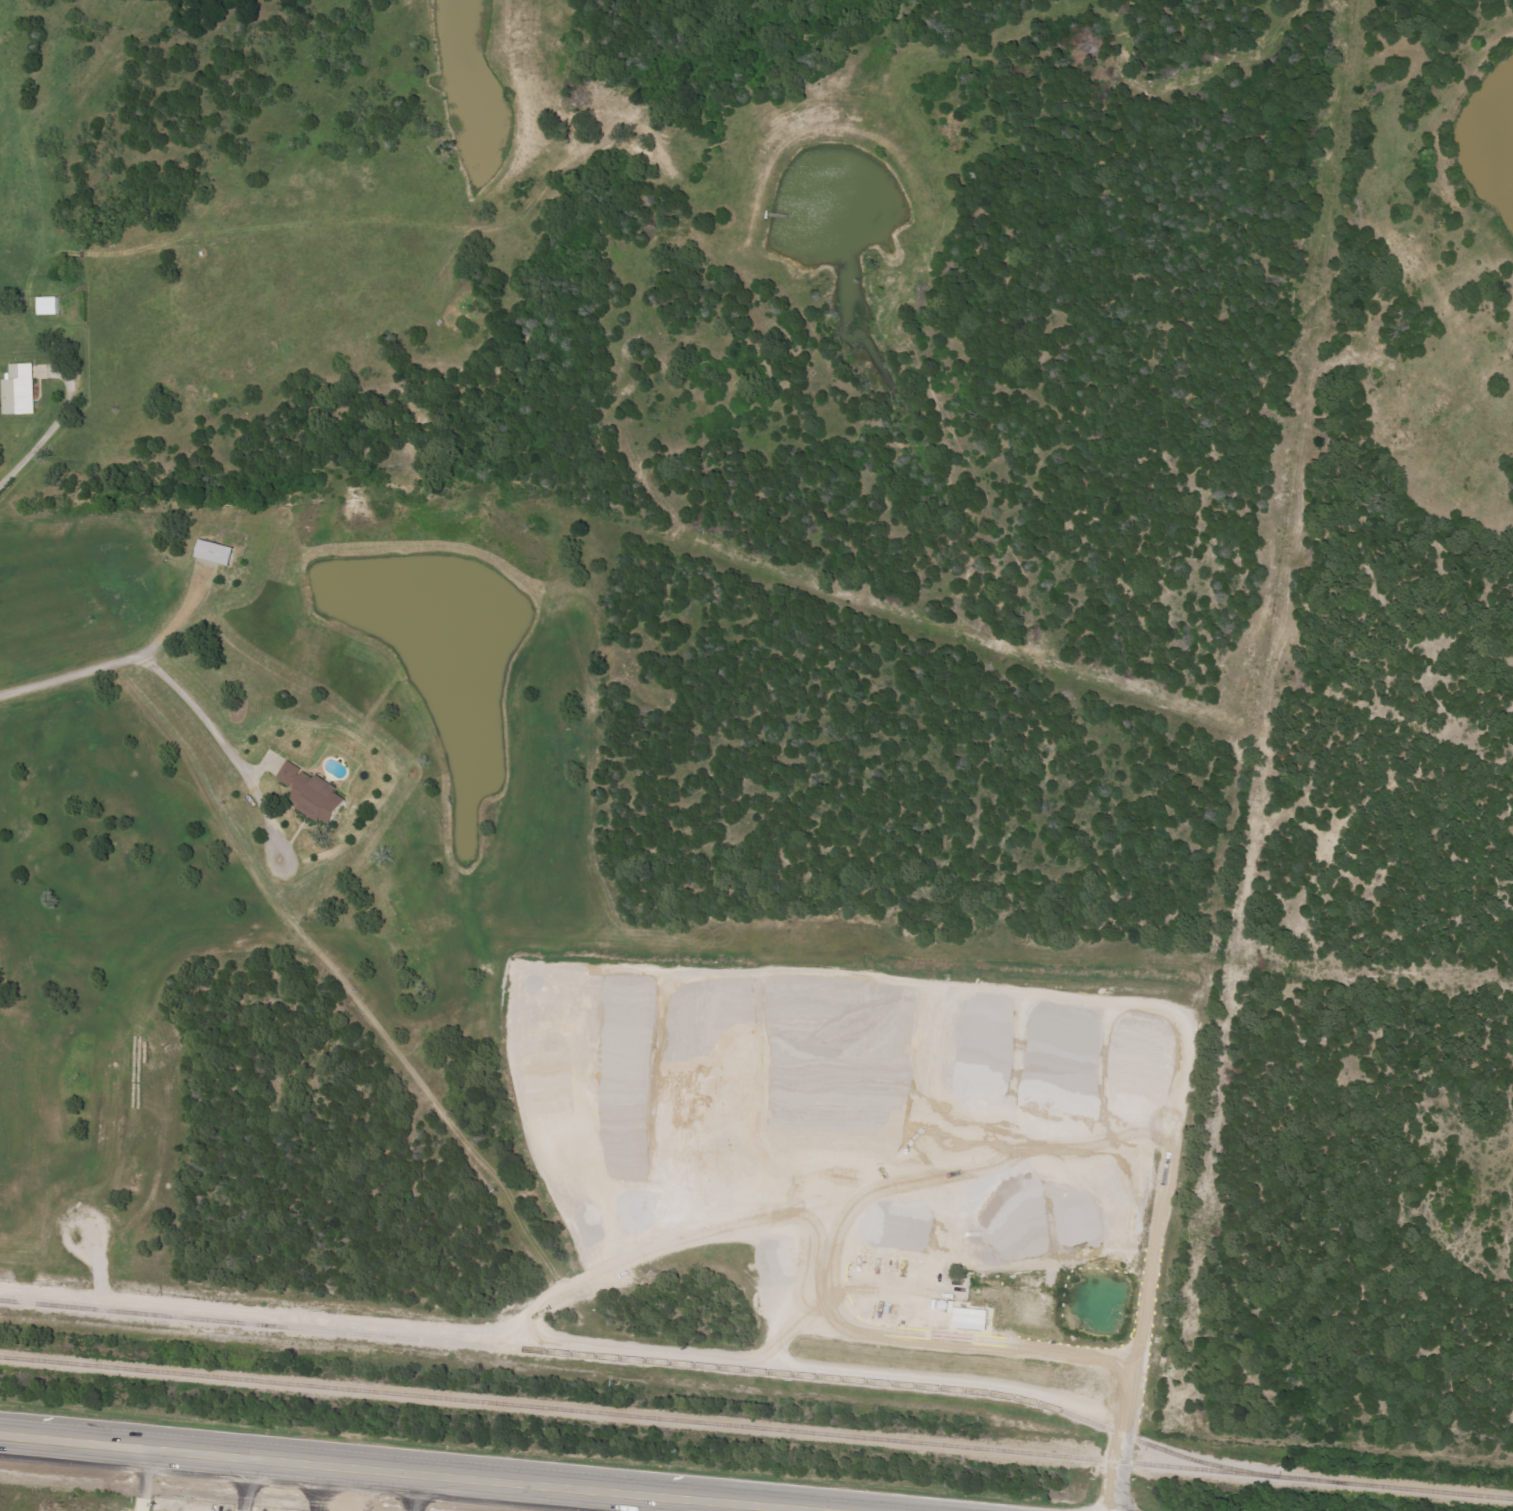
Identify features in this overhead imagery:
road: (30, 304)
building: (54, 306)
building: (22, 390)
building: (219, 553)
road: (181, 692)
building: (317, 793)
building: (976, 1319)
road: (616, 1345)
railway: (756, 1426)
road: (407, 1472)
road: (147, 1480)
road: (246, 1484)
road: (417, 1492)

